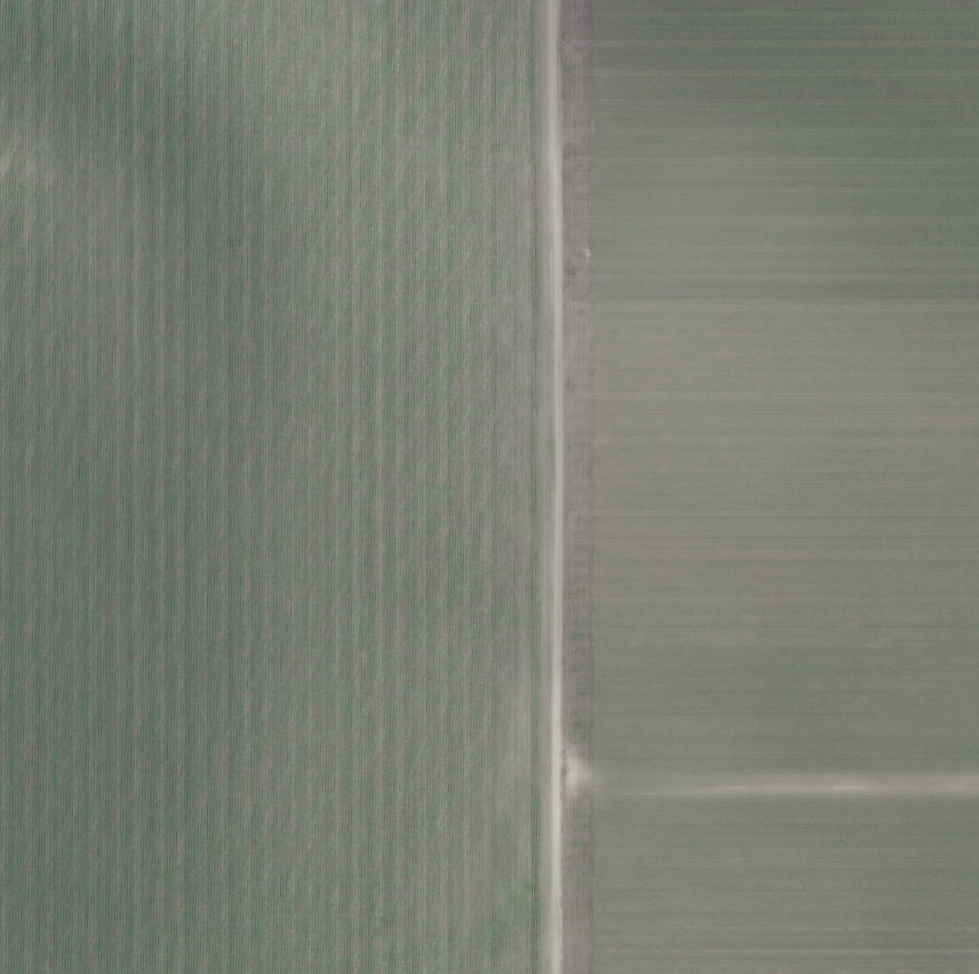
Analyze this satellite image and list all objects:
road: (564, 487)

